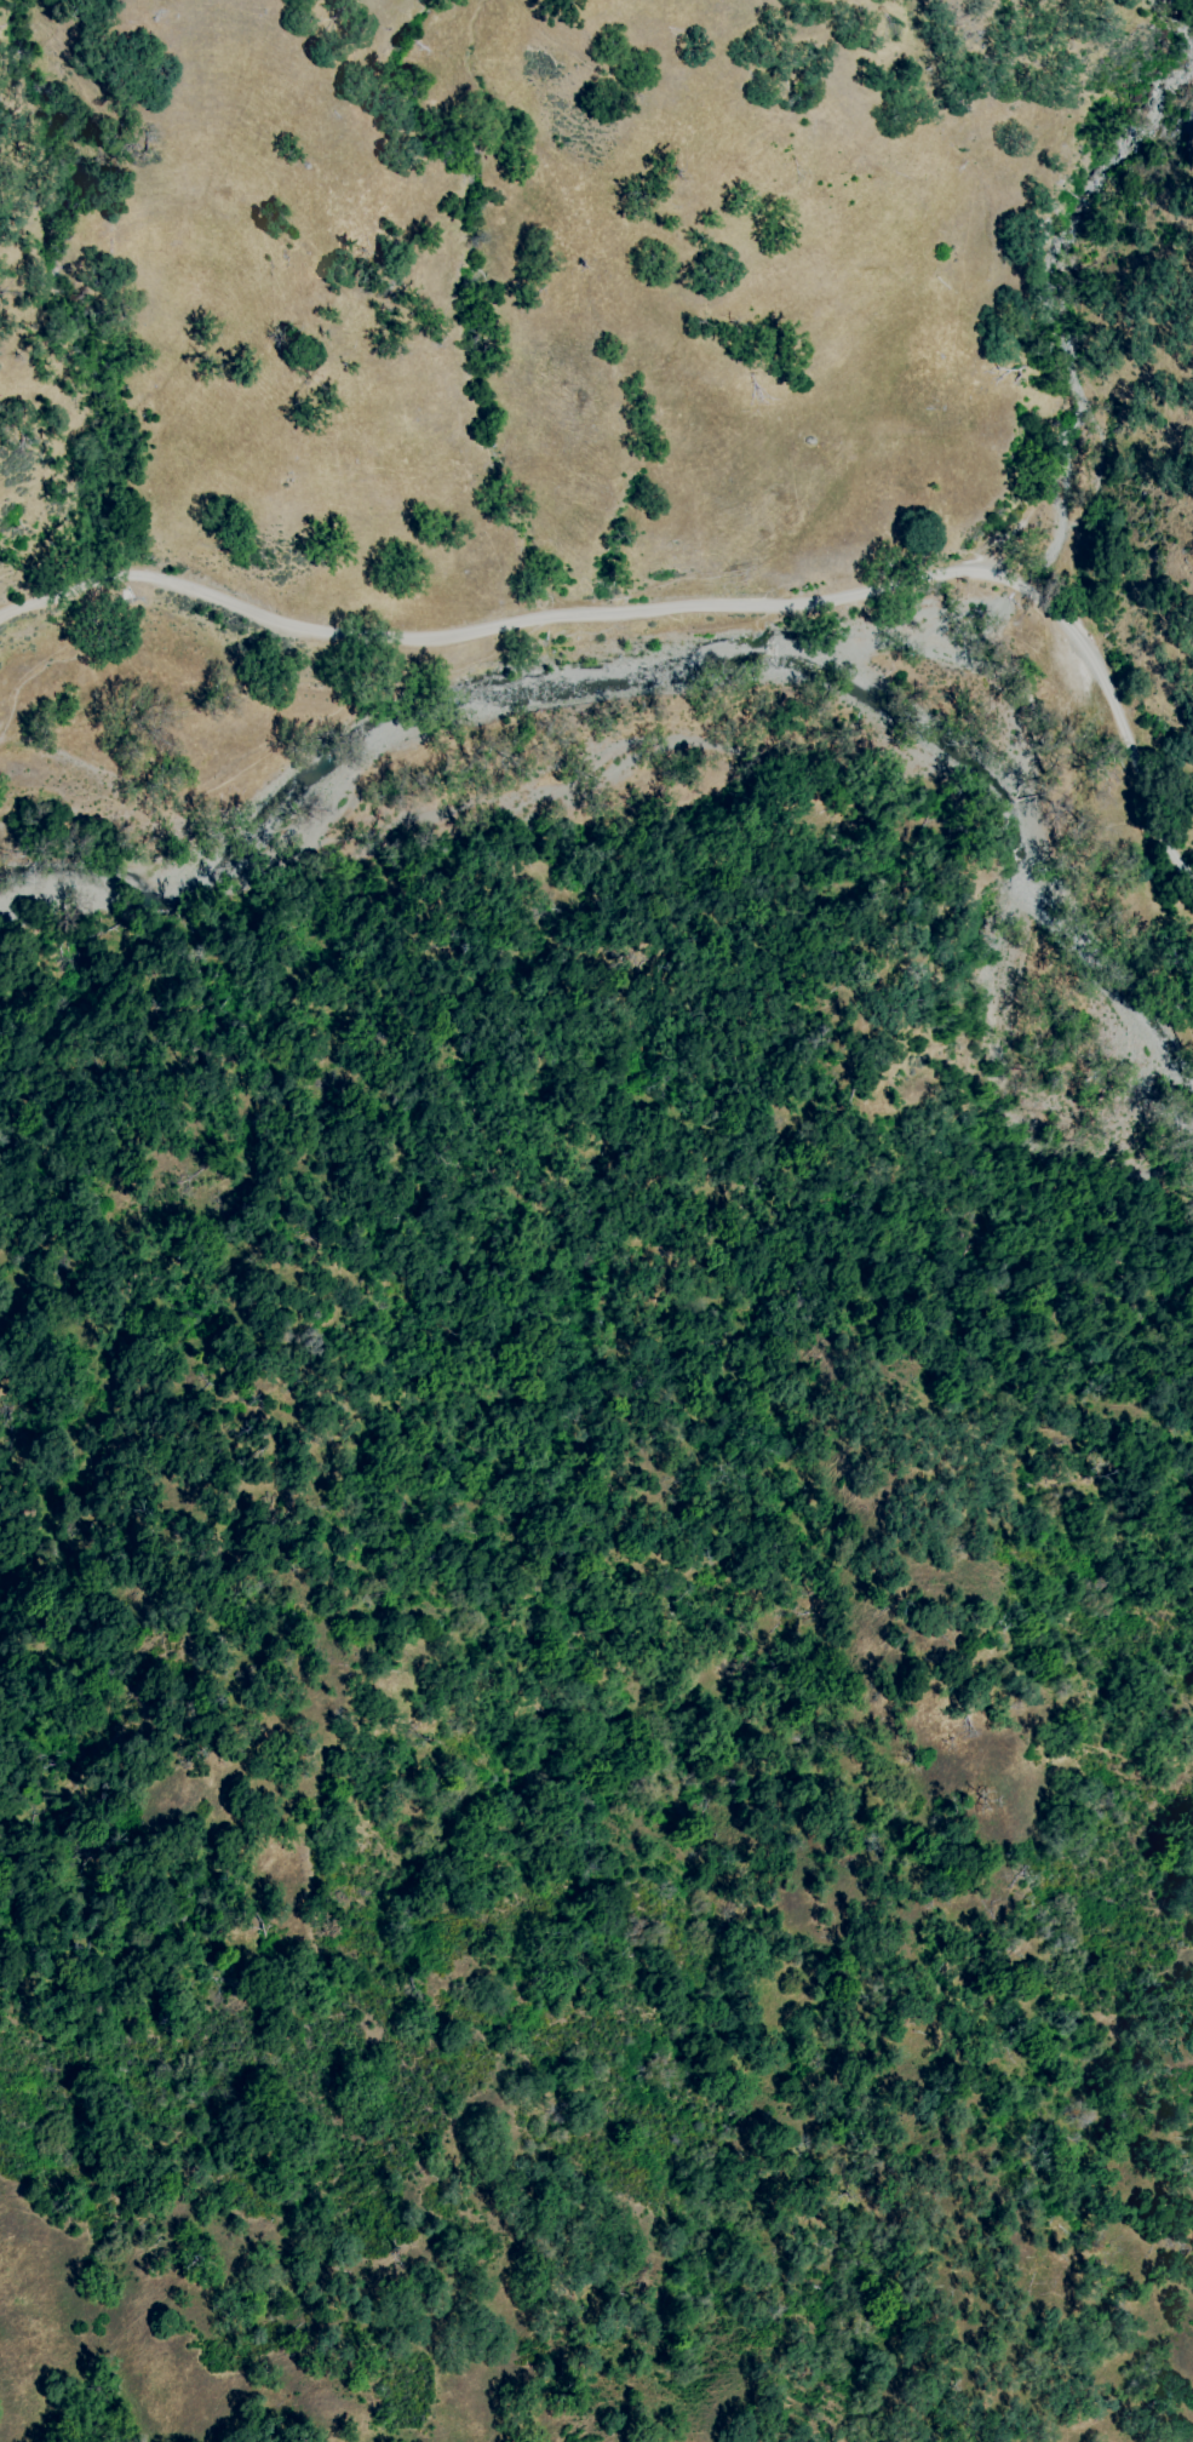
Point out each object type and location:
road: (61, 554)
road: (62, 595)
road: (746, 606)
river: (448, 789)
river: (1037, 911)

